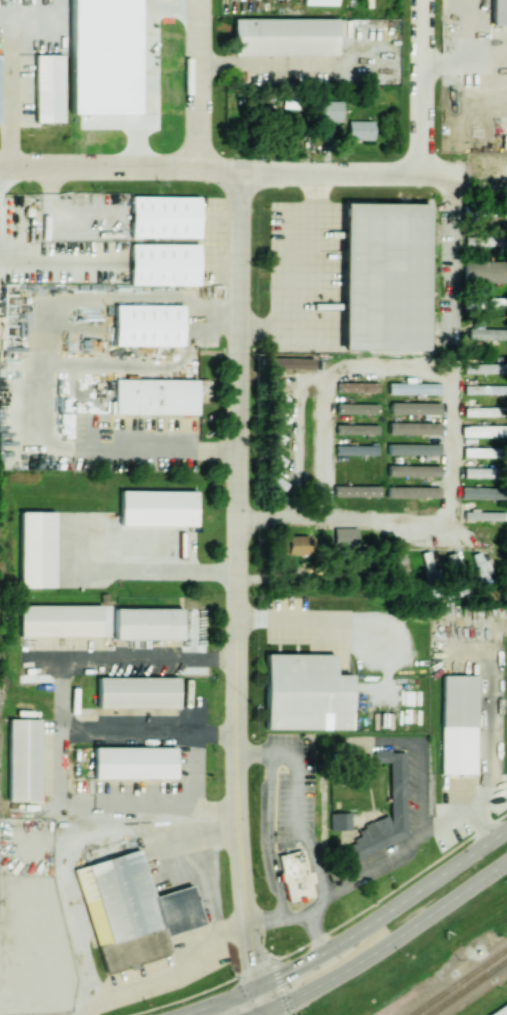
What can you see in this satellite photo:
building: (498, 12)
building: (284, 36)
road: (465, 59)
road: (199, 81)
building: (48, 88)
road: (424, 91)
road: (10, 94)
building: (328, 110)
building: (359, 129)
road: (223, 169)
road: (477, 185)
building: (163, 216)
building: (482, 239)
road: (455, 256)
building: (163, 263)
building: (485, 270)
building: (385, 276)
road: (313, 290)
building: (484, 302)
road: (54, 307)
road: (220, 315)
building: (148, 324)
building: (485, 331)
building: (284, 362)
road: (141, 366)
building: (484, 367)
building: (357, 386)
building: (413, 387)
building: (484, 389)
building: (155, 396)
building: (414, 407)
building: (357, 408)
building: (482, 411)
road: (449, 414)
building: (279, 415)
building: (356, 428)
building: (413, 428)
building: (483, 430)
building: (413, 448)
building: (356, 449)
road: (155, 450)
building: (480, 451)
building: (413, 470)
building: (479, 472)
road: (238, 492)
building: (480, 492)
building: (157, 507)
building: (484, 514)
building: (345, 536)
building: (299, 544)
building: (36, 548)
road: (154, 566)
building: (482, 571)
building: (60, 620)
building: (147, 623)
building: (137, 692)
building: (305, 692)
road: (63, 713)
building: (458, 724)
road: (149, 733)
building: (23, 759)
building: (134, 762)
building: (397, 787)
road: (216, 810)
building: (340, 820)
road: (205, 871)
building: (294, 875)
road: (391, 889)
road: (326, 892)
road: (243, 899)
road: (317, 902)
building: (130, 911)
road: (298, 915)
road: (352, 935)
road: (387, 945)
traffic signals: (251, 961)
road: (274, 966)
road: (168, 967)
traffic signals: (282, 976)
railway: (458, 980)
railway: (466, 986)
road: (200, 992)
road: (251, 1001)
road: (257, 1001)

